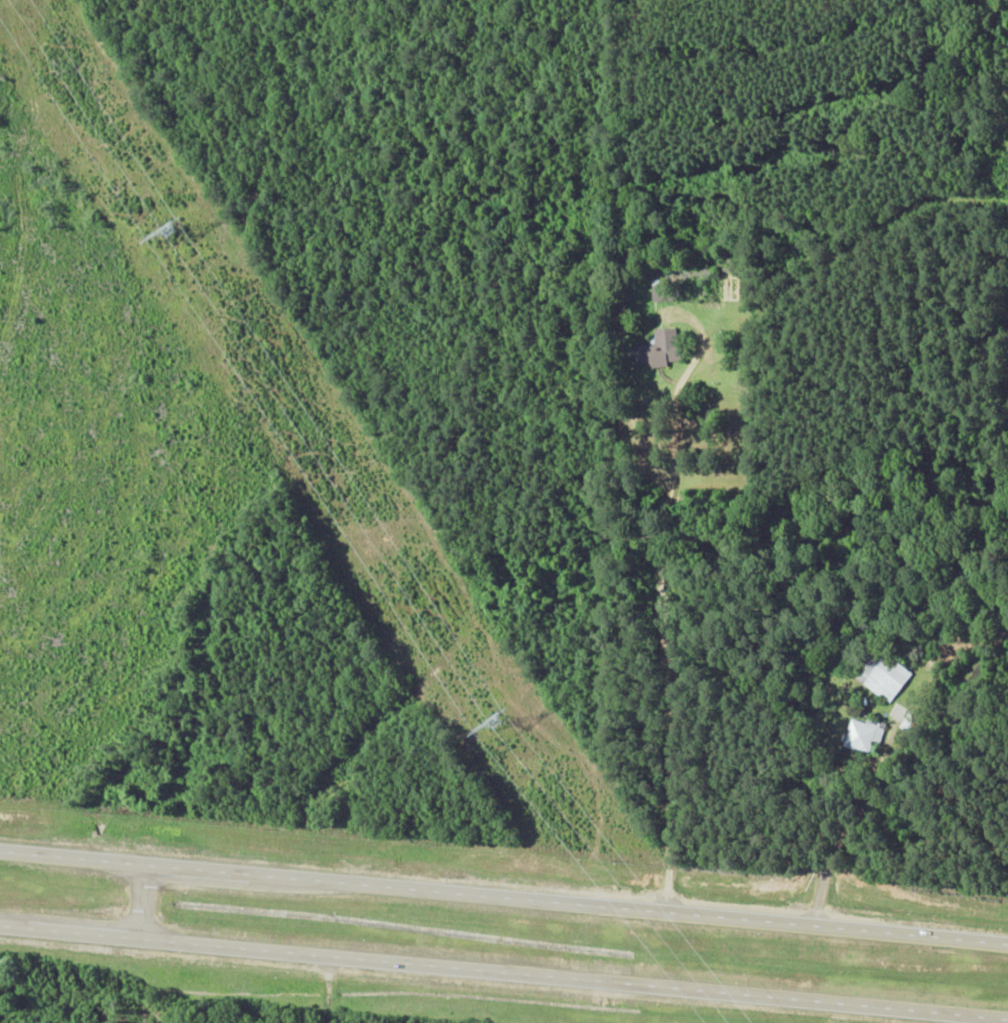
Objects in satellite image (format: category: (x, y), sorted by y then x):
power tower: (170, 230)
building: (667, 288)
building: (659, 349)
building: (887, 678)
power tower: (496, 724)
building: (863, 735)
road: (668, 802)
road: (264, 875)
road: (144, 901)
road: (768, 921)
road: (503, 972)

